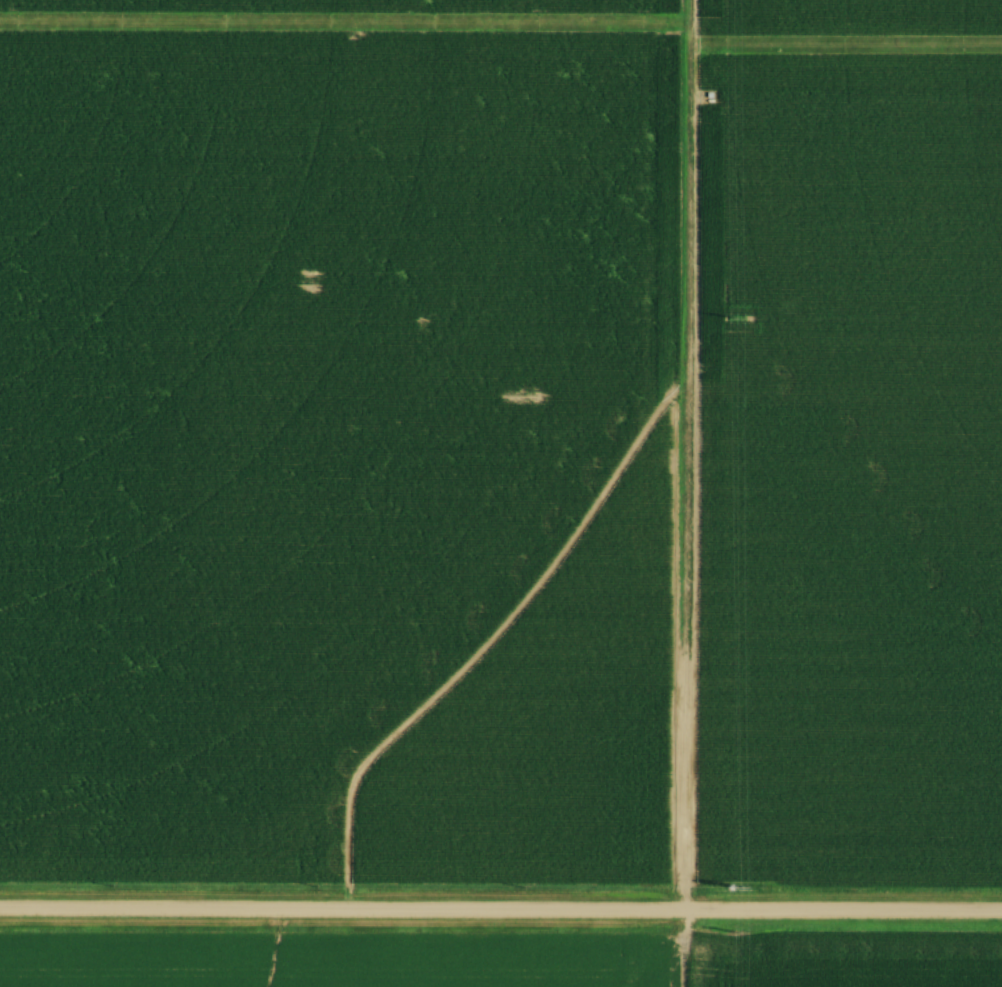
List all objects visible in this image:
road: (501, 911)

